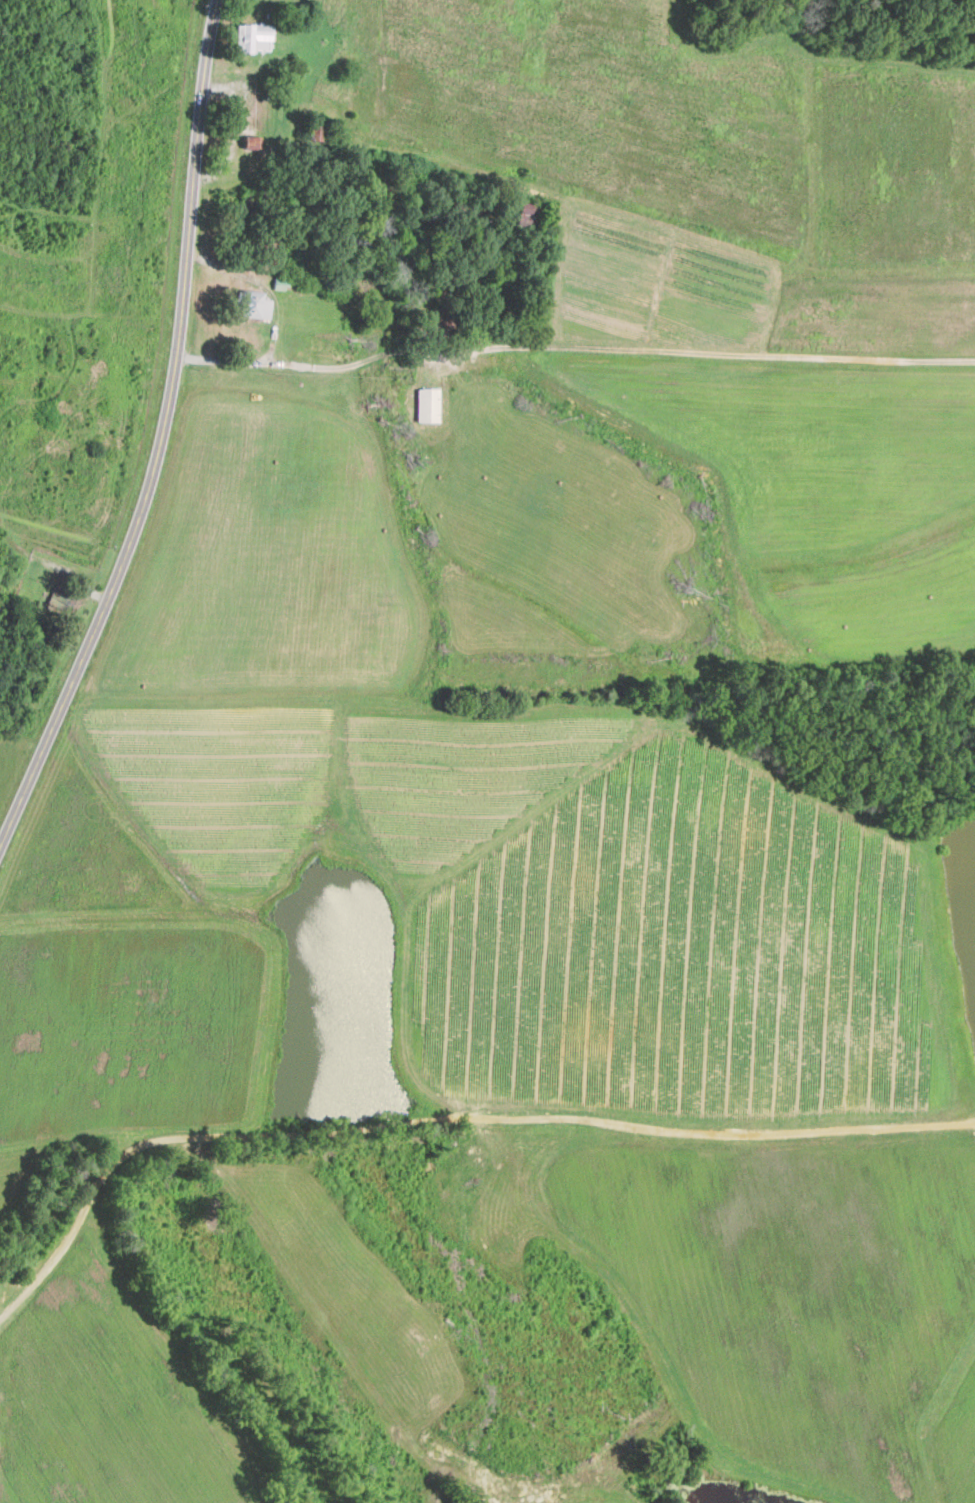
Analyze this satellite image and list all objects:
building: (251, 37)
building: (250, 142)
building: (253, 303)
road: (325, 368)
building: (427, 403)
road: (160, 439)
road: (77, 1215)

